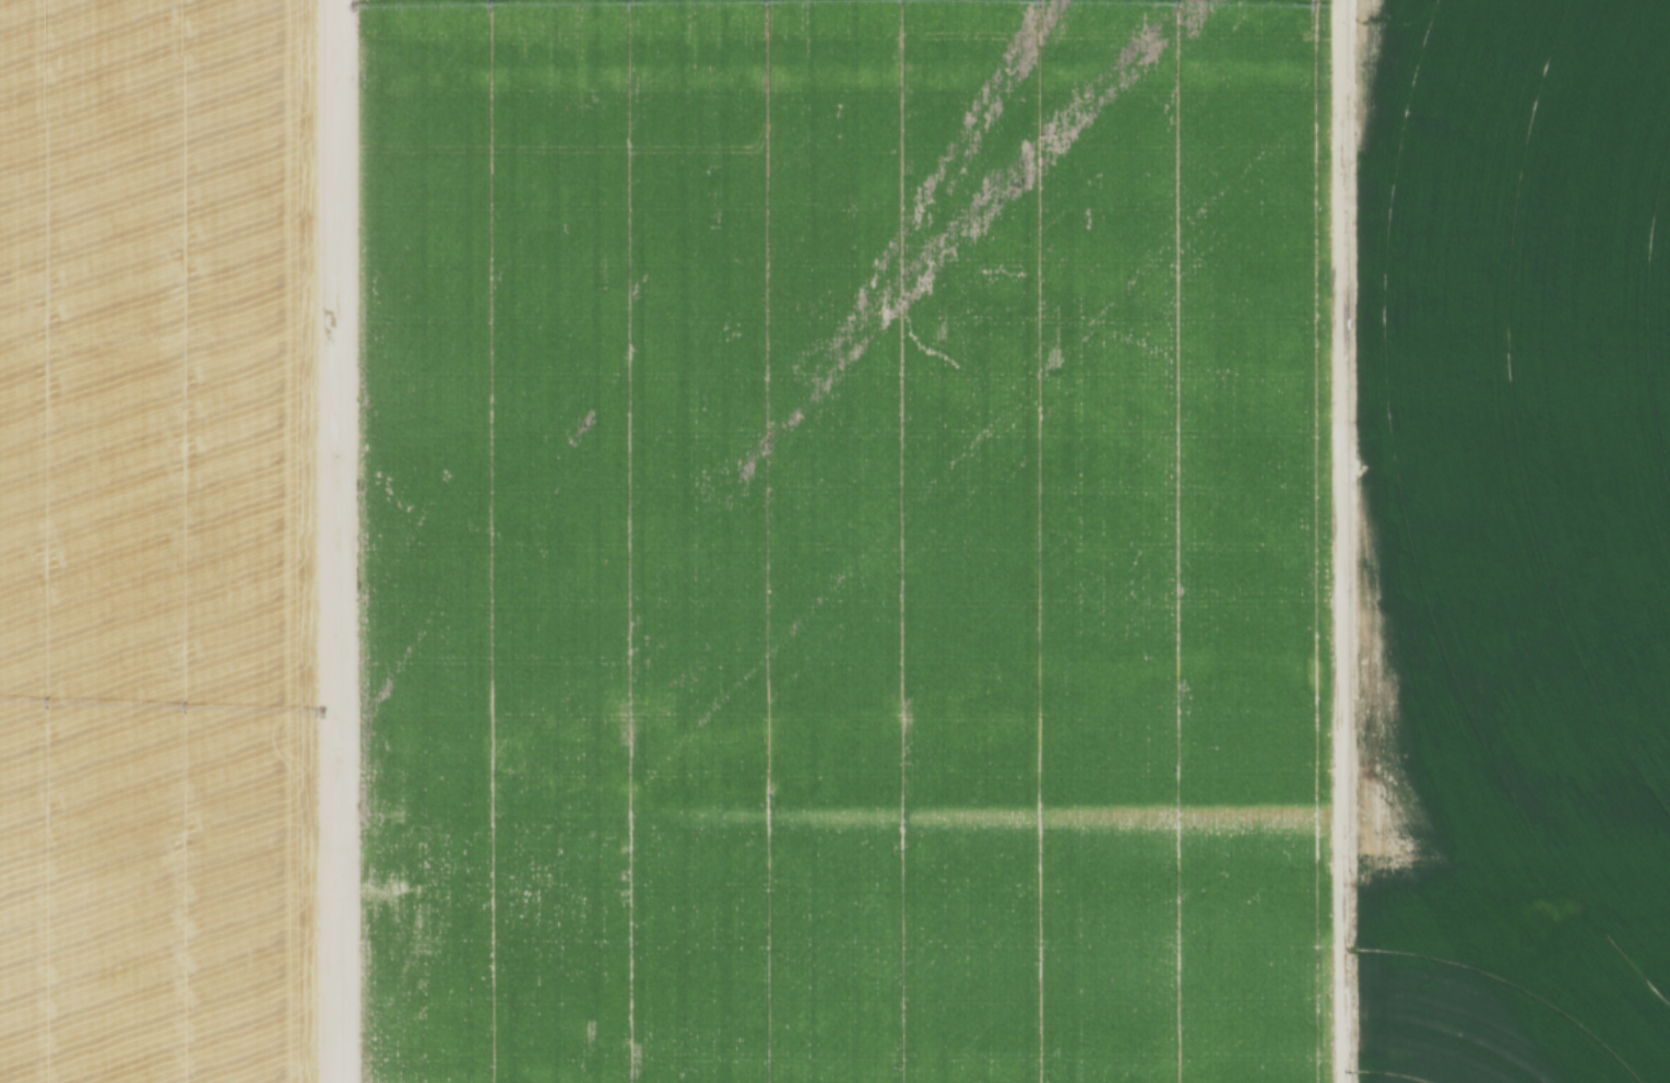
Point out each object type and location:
road: (318, 541)
road: (340, 541)
road: (1330, 541)

